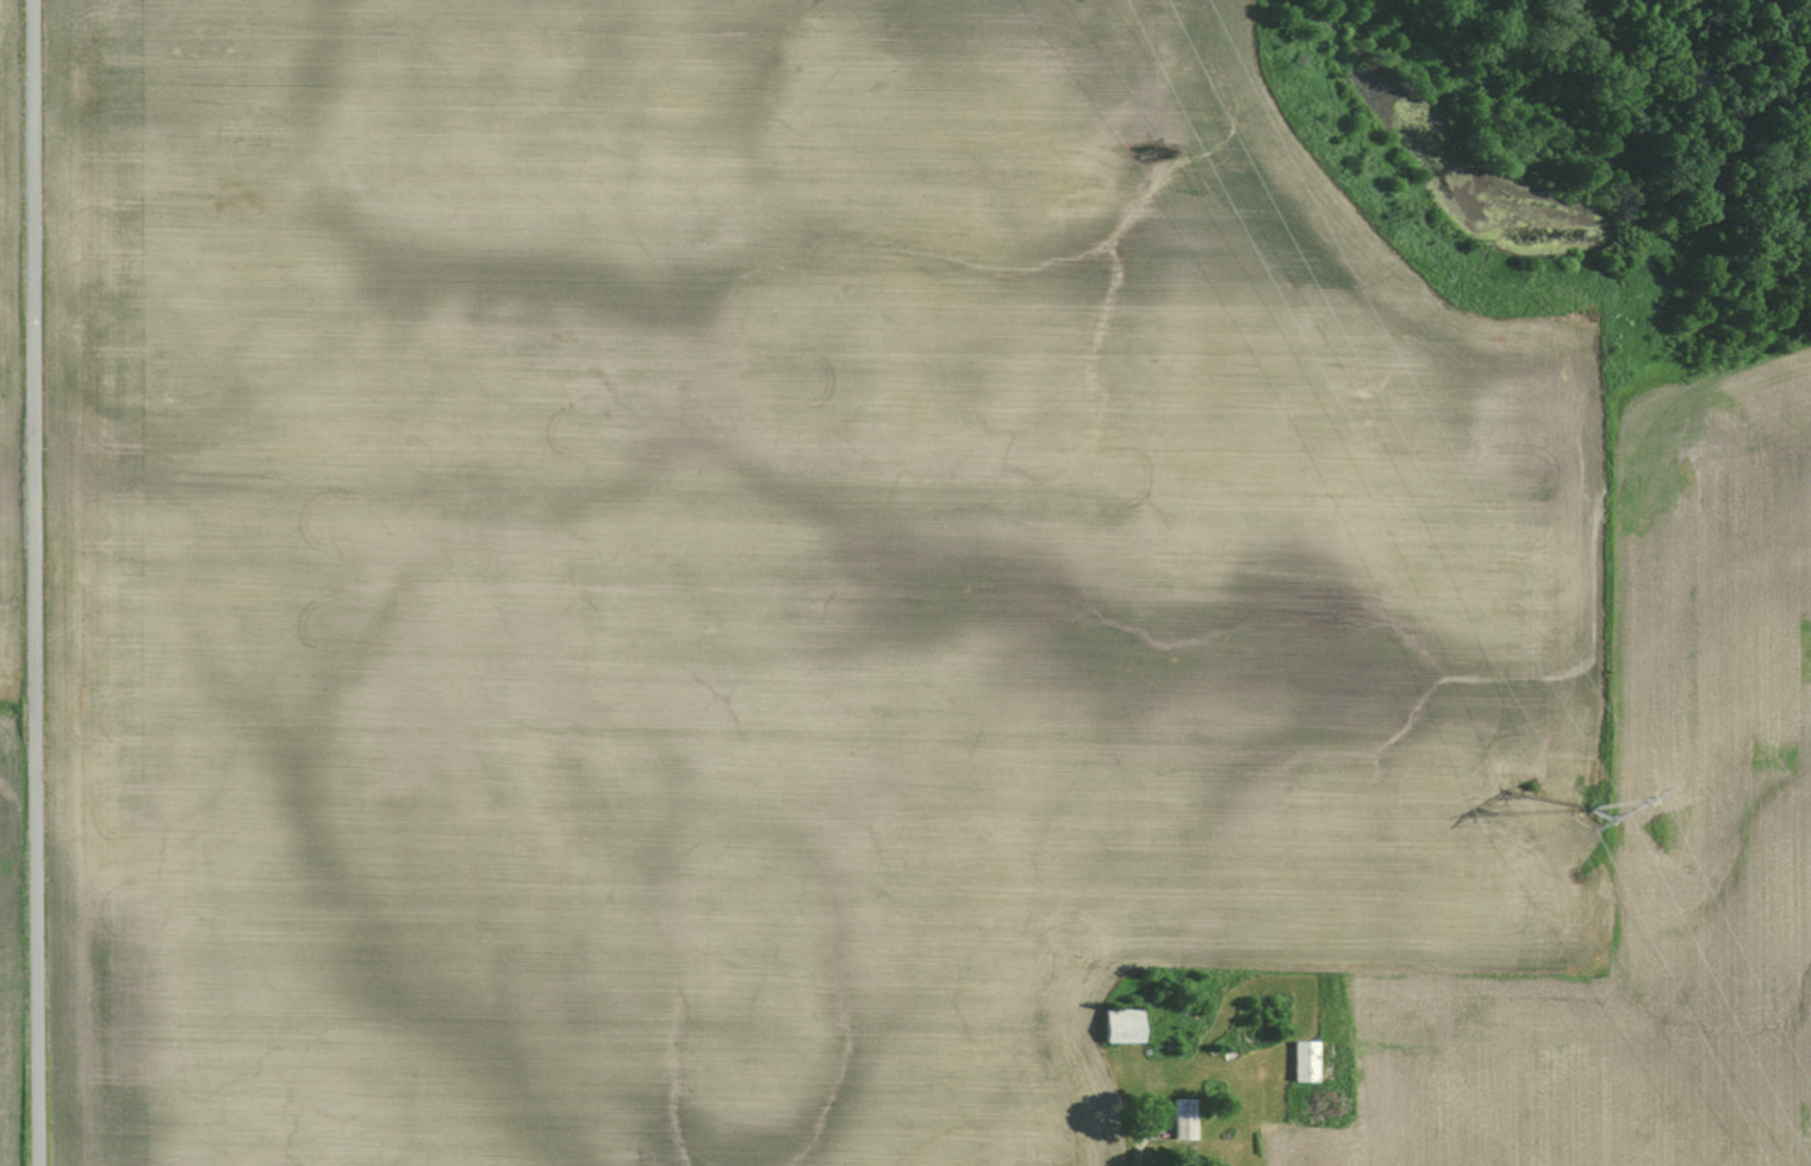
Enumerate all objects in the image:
road: (31, 582)
power tower: (1591, 811)
building: (1127, 1027)
building: (1308, 1062)
building: (1188, 1118)
road: (1138, 1139)

